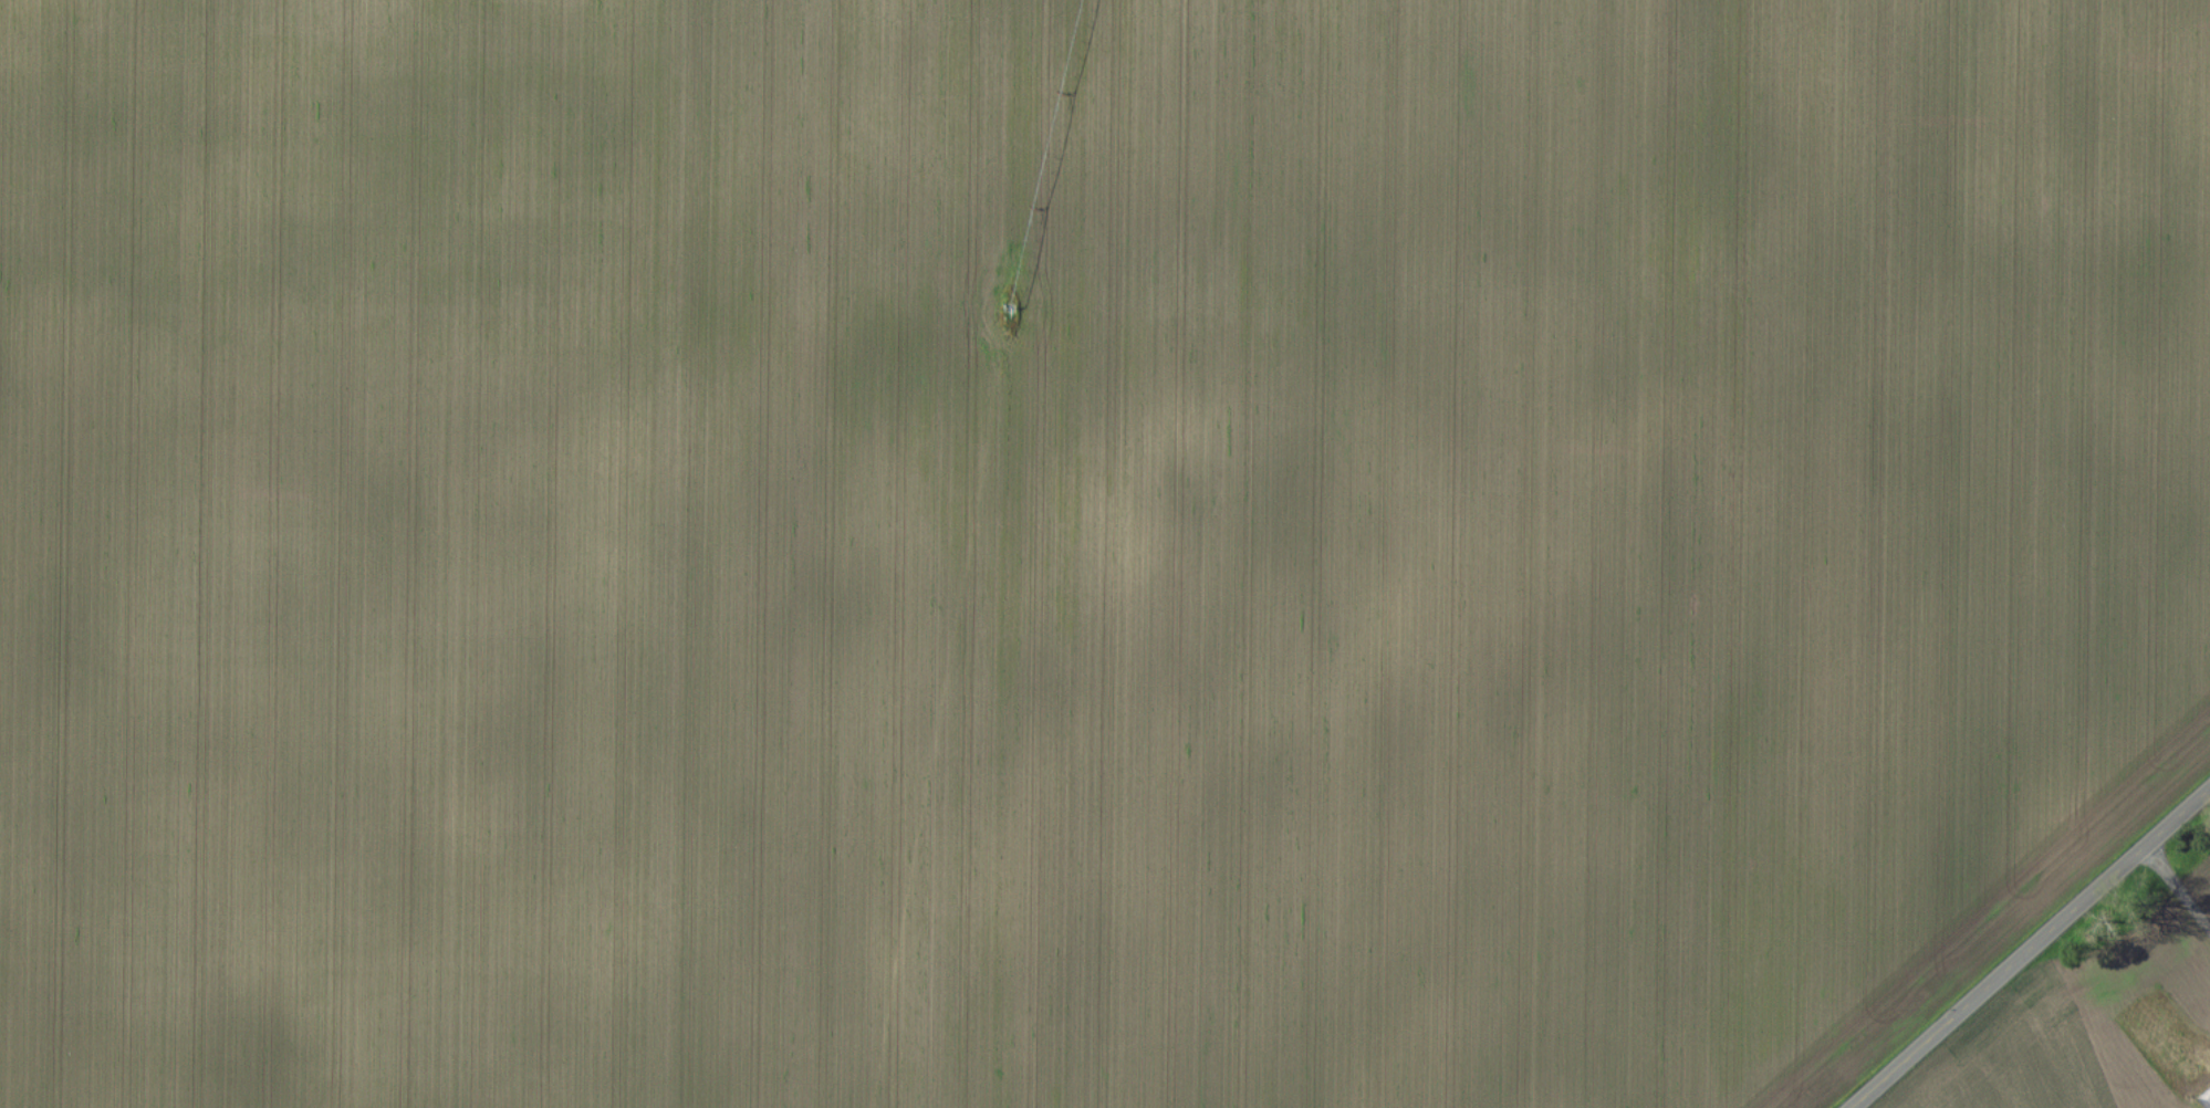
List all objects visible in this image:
road: (2031, 949)

